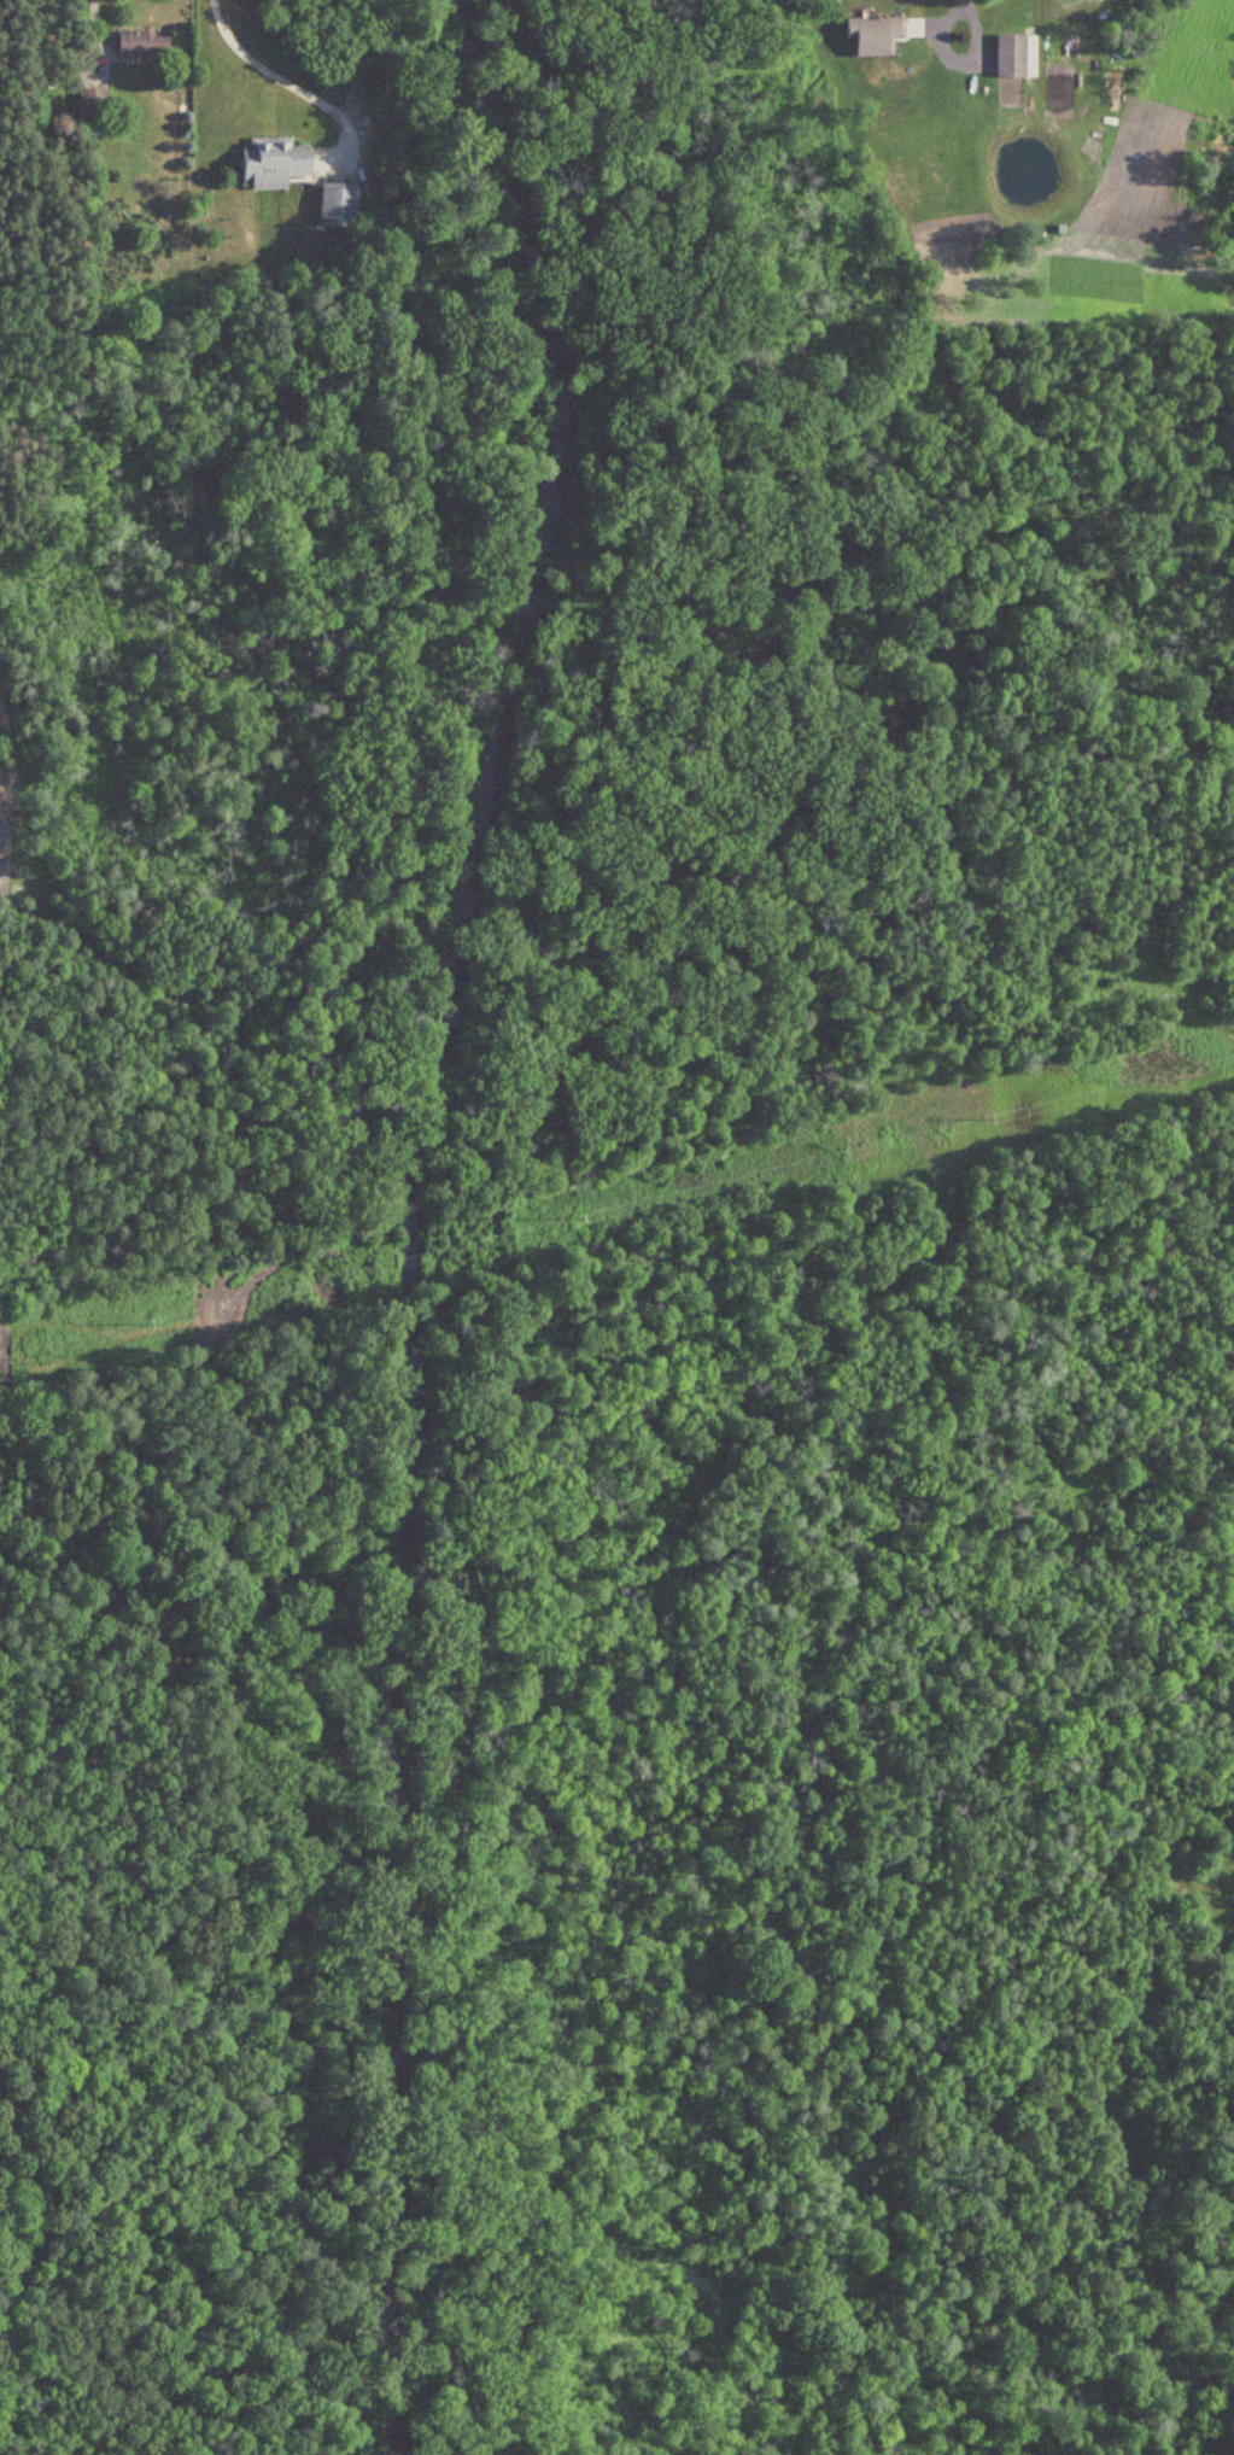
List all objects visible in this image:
road: (964, 2)
road: (87, 25)
building: (869, 34)
building: (141, 42)
building: (1006, 54)
road: (955, 55)
road: (296, 82)
building: (94, 111)
building: (268, 160)
building: (332, 203)
road: (454, 1217)
road: (967, 2436)

